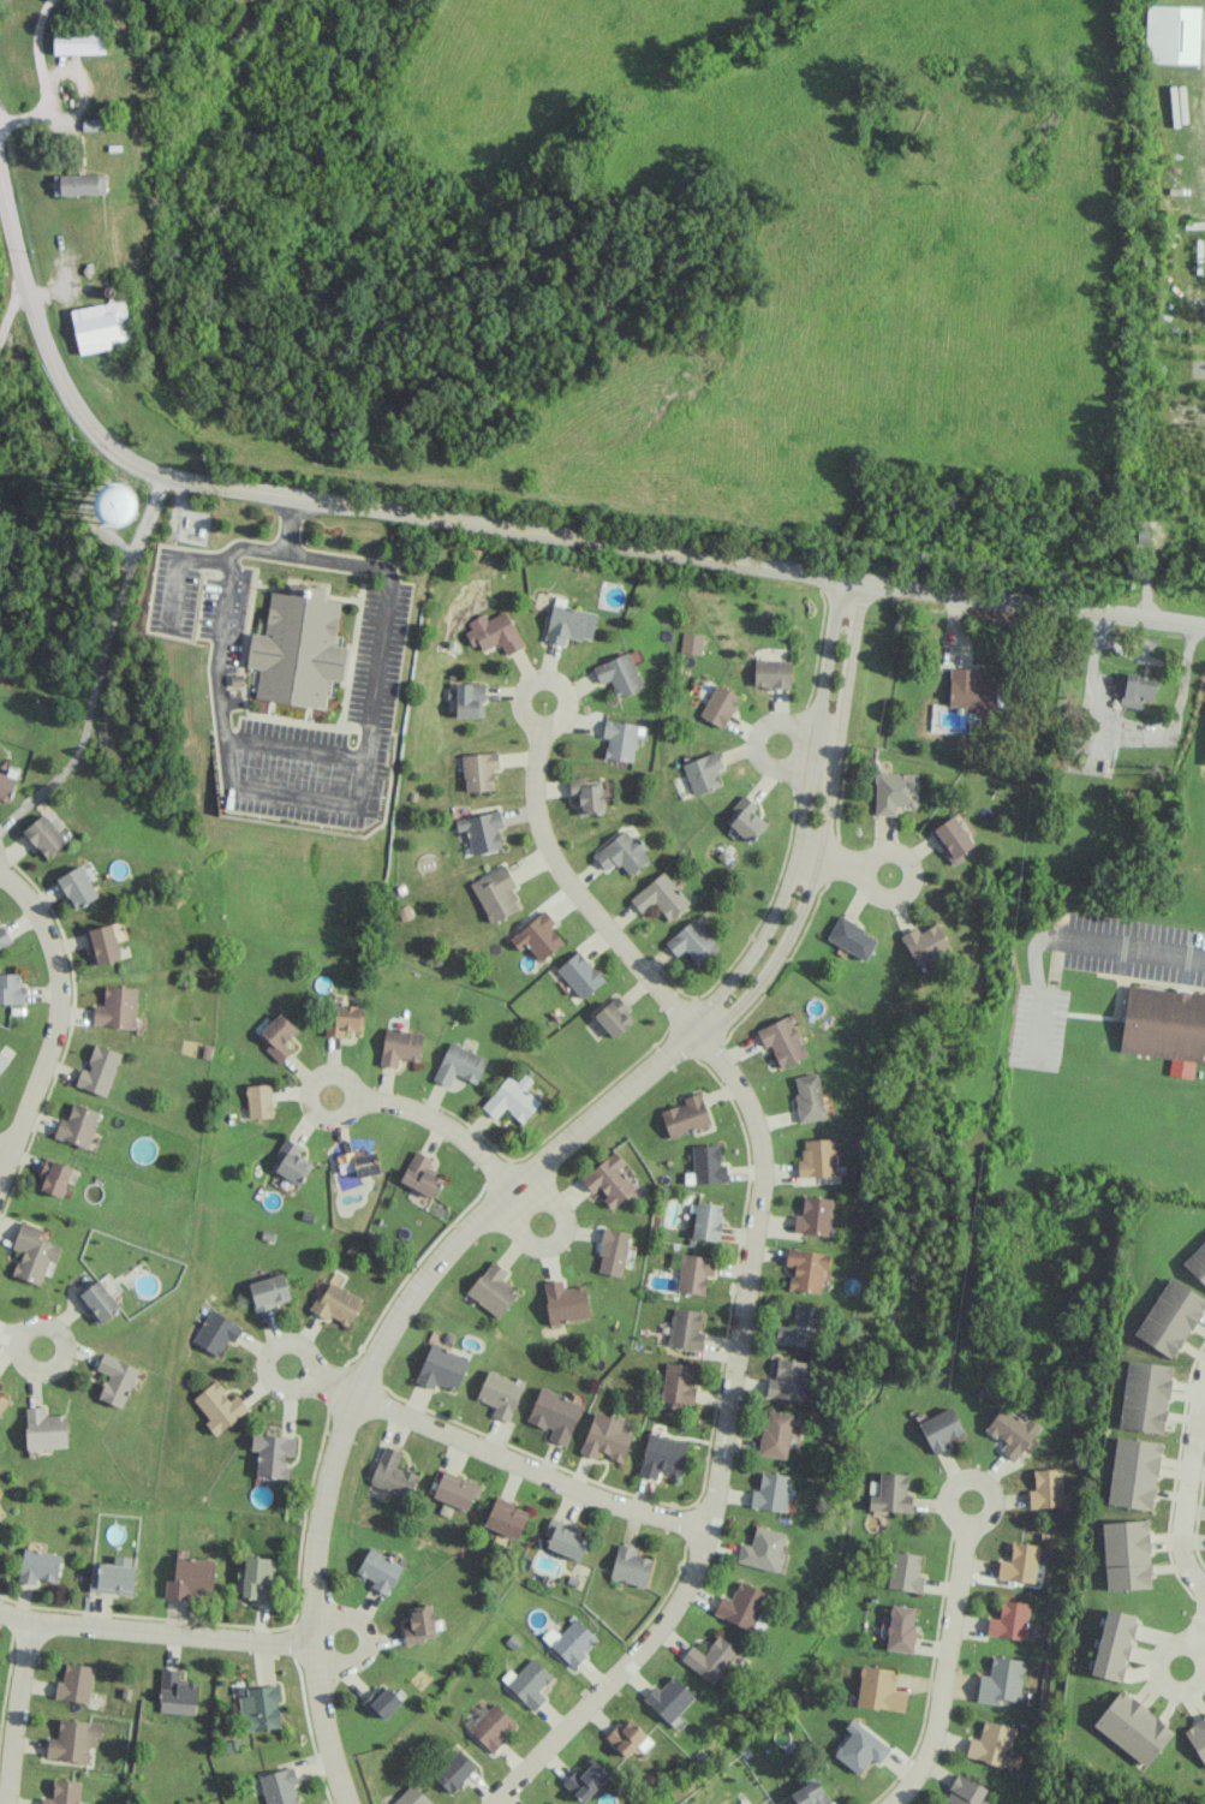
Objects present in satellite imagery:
building: (1171, 34)
building: (78, 41)
road: (42, 77)
building: (78, 184)
road: (11, 308)
building: (101, 327)
building: (115, 505)
road: (511, 531)
road: (177, 567)
building: (568, 623)
building: (494, 632)
building: (691, 643)
building: (297, 647)
road: (1138, 655)
road: (101, 665)
building: (619, 674)
building: (771, 674)
road: (548, 678)
building: (1133, 689)
building: (972, 690)
building: (469, 701)
building: (718, 705)
road: (1131, 731)
building: (620, 740)
road: (758, 743)
road: (293, 746)
building: (478, 770)
building: (703, 773)
building: (6, 785)
building: (894, 792)
building: (587, 794)
road: (341, 804)
building: (745, 818)
building: (482, 832)
building: (43, 835)
building: (952, 839)
building: (622, 853)
road: (834, 863)
road: (911, 868)
building: (77, 887)
building: (495, 893)
building: (661, 897)
building: (4, 936)
building: (537, 936)
building: (852, 937)
building: (692, 942)
building: (925, 943)
building: (102, 945)
road: (1133, 945)
building: (579, 975)
building: (11, 988)
building: (117, 1007)
building: (614, 1017)
road: (55, 1020)
building: (345, 1020)
building: (1163, 1024)
building: (276, 1036)
building: (782, 1041)
building: (399, 1046)
building: (2, 1062)
building: (459, 1065)
building: (99, 1070)
building: (809, 1097)
building: (512, 1099)
building: (258, 1101)
road: (354, 1102)
building: (686, 1117)
building: (77, 1125)
road: (442, 1126)
road: (5, 1149)
building: (817, 1159)
building: (291, 1162)
building: (359, 1163)
building: (705, 1166)
road: (532, 1174)
building: (420, 1175)
building: (53, 1178)
building: (609, 1179)
road: (532, 1216)
building: (813, 1216)
building: (706, 1221)
building: (613, 1252)
building: (32, 1254)
building: (1197, 1263)
road: (748, 1268)
building: (806, 1269)
building: (693, 1273)
building: (493, 1290)
building: (268, 1292)
building: (100, 1299)
building: (336, 1303)
building: (565, 1303)
building: (1170, 1317)
building: (799, 1328)
building: (685, 1329)
building: (215, 1333)
road: (8, 1336)
road: (304, 1346)
road: (65, 1350)
building: (441, 1368)
building: (115, 1380)
building: (787, 1380)
building: (678, 1383)
road: (333, 1386)
building: (500, 1394)
building: (1145, 1397)
building: (2, 1403)
building: (219, 1407)
building: (554, 1415)
building: (44, 1429)
building: (941, 1429)
building: (1012, 1433)
building: (606, 1437)
building: (273, 1454)
building: (662, 1457)
road: (529, 1469)
building: (394, 1473)
building: (1133, 1473)
road: (1188, 1476)
road: (979, 1477)
building: (1046, 1489)
building: (455, 1490)
building: (770, 1492)
building: (890, 1494)
building: (505, 1518)
building: (566, 1541)
building: (762, 1549)
building: (1126, 1555)
building: (1019, 1564)
building: (38, 1566)
building: (630, 1566)
building: (378, 1571)
building: (905, 1572)
building: (112, 1576)
building: (190, 1577)
building: (256, 1579)
road: (1194, 1585)
building: (740, 1606)
building: (1009, 1620)
building: (420, 1624)
road: (1197, 1626)
building: (900, 1629)
road: (155, 1633)
road: (371, 1639)
building: (569, 1642)
building: (1114, 1644)
building: (711, 1660)
road: (944, 1671)
building: (1001, 1680)
building: (527, 1683)
building: (74, 1684)
road: (1170, 1685)
building: (878, 1690)
building: (175, 1693)
building: (668, 1698)
building: (381, 1702)
building: (261, 1708)
road: (13, 1711)
building: (491, 1727)
building: (1132, 1728)
building: (628, 1738)
building: (1197, 1738)
building: (73, 1740)
building: (994, 1745)
building: (860, 1748)
building: (453, 1772)
building: (585, 1781)
building: (279, 1787)
building: (964, 1791)
building: (62, 1792)
building: (810, 1794)
building: (411, 1797)
building: (551, 1803)

